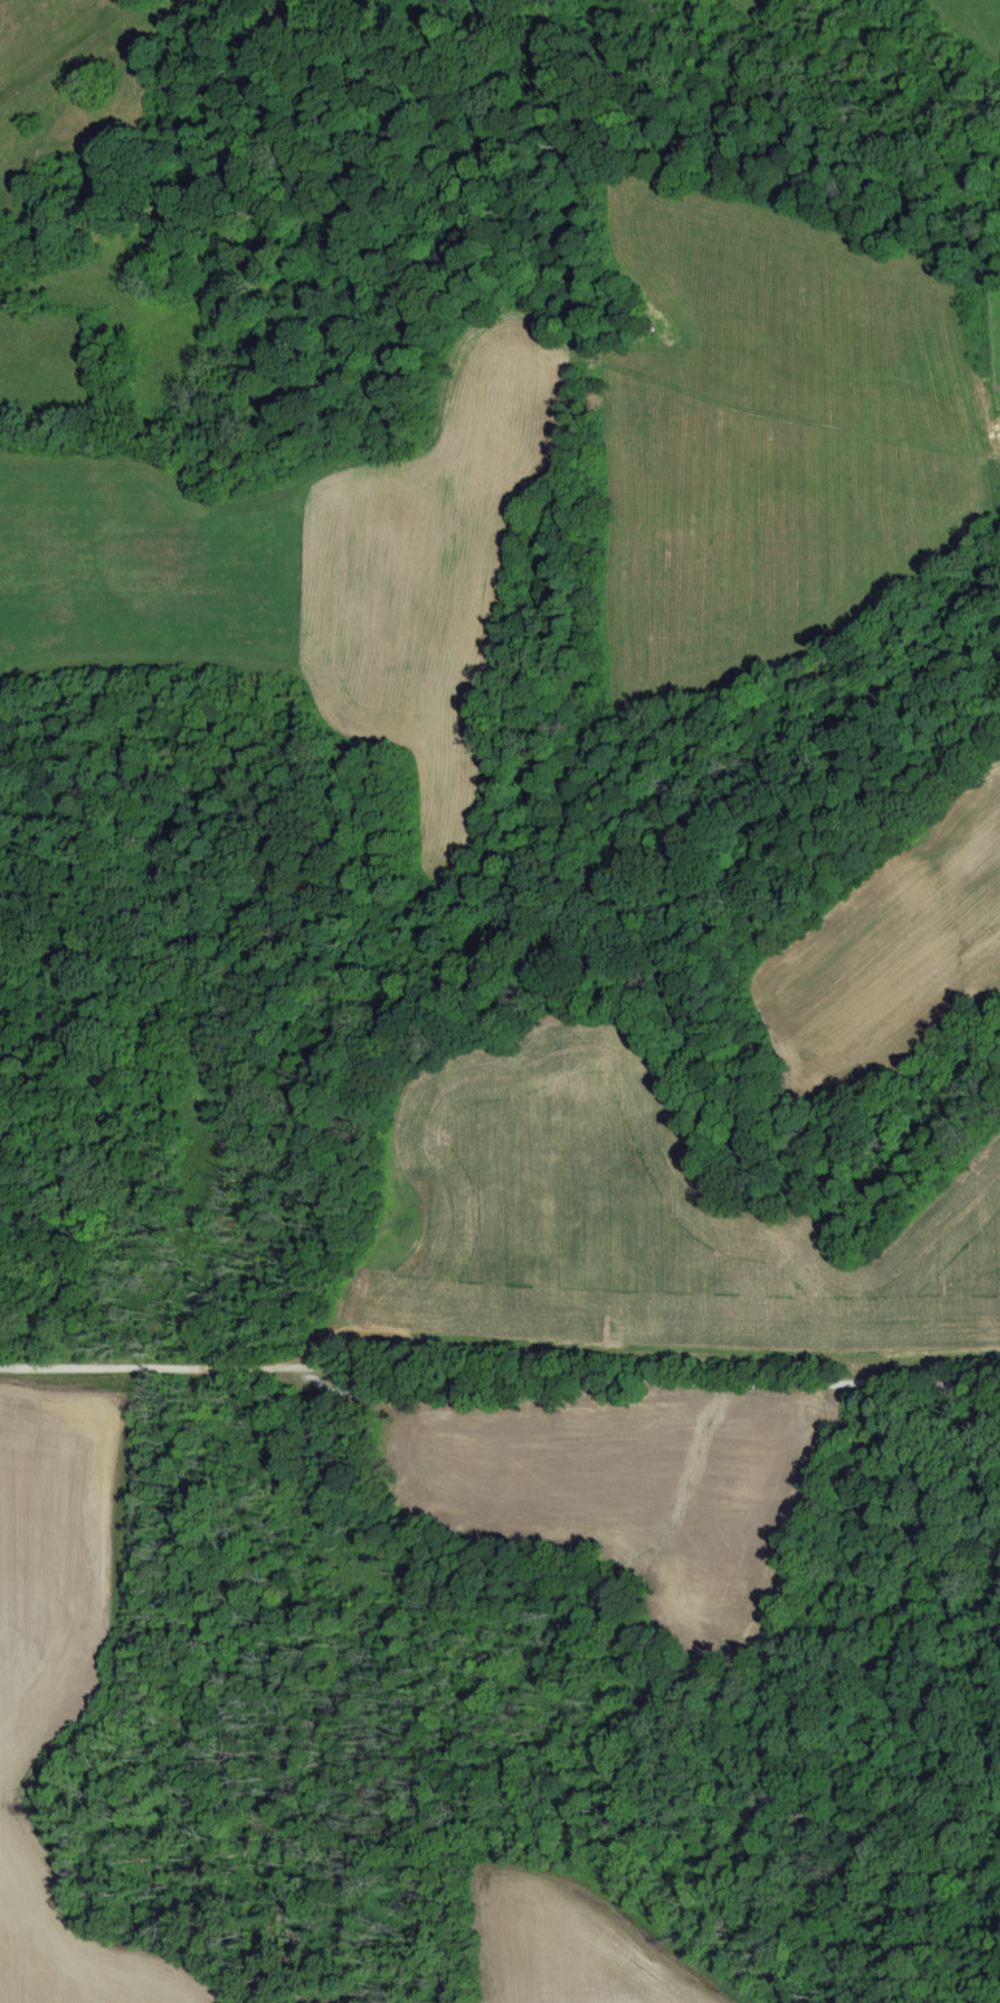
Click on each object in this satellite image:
road: (95, 995)
road: (500, 1371)

